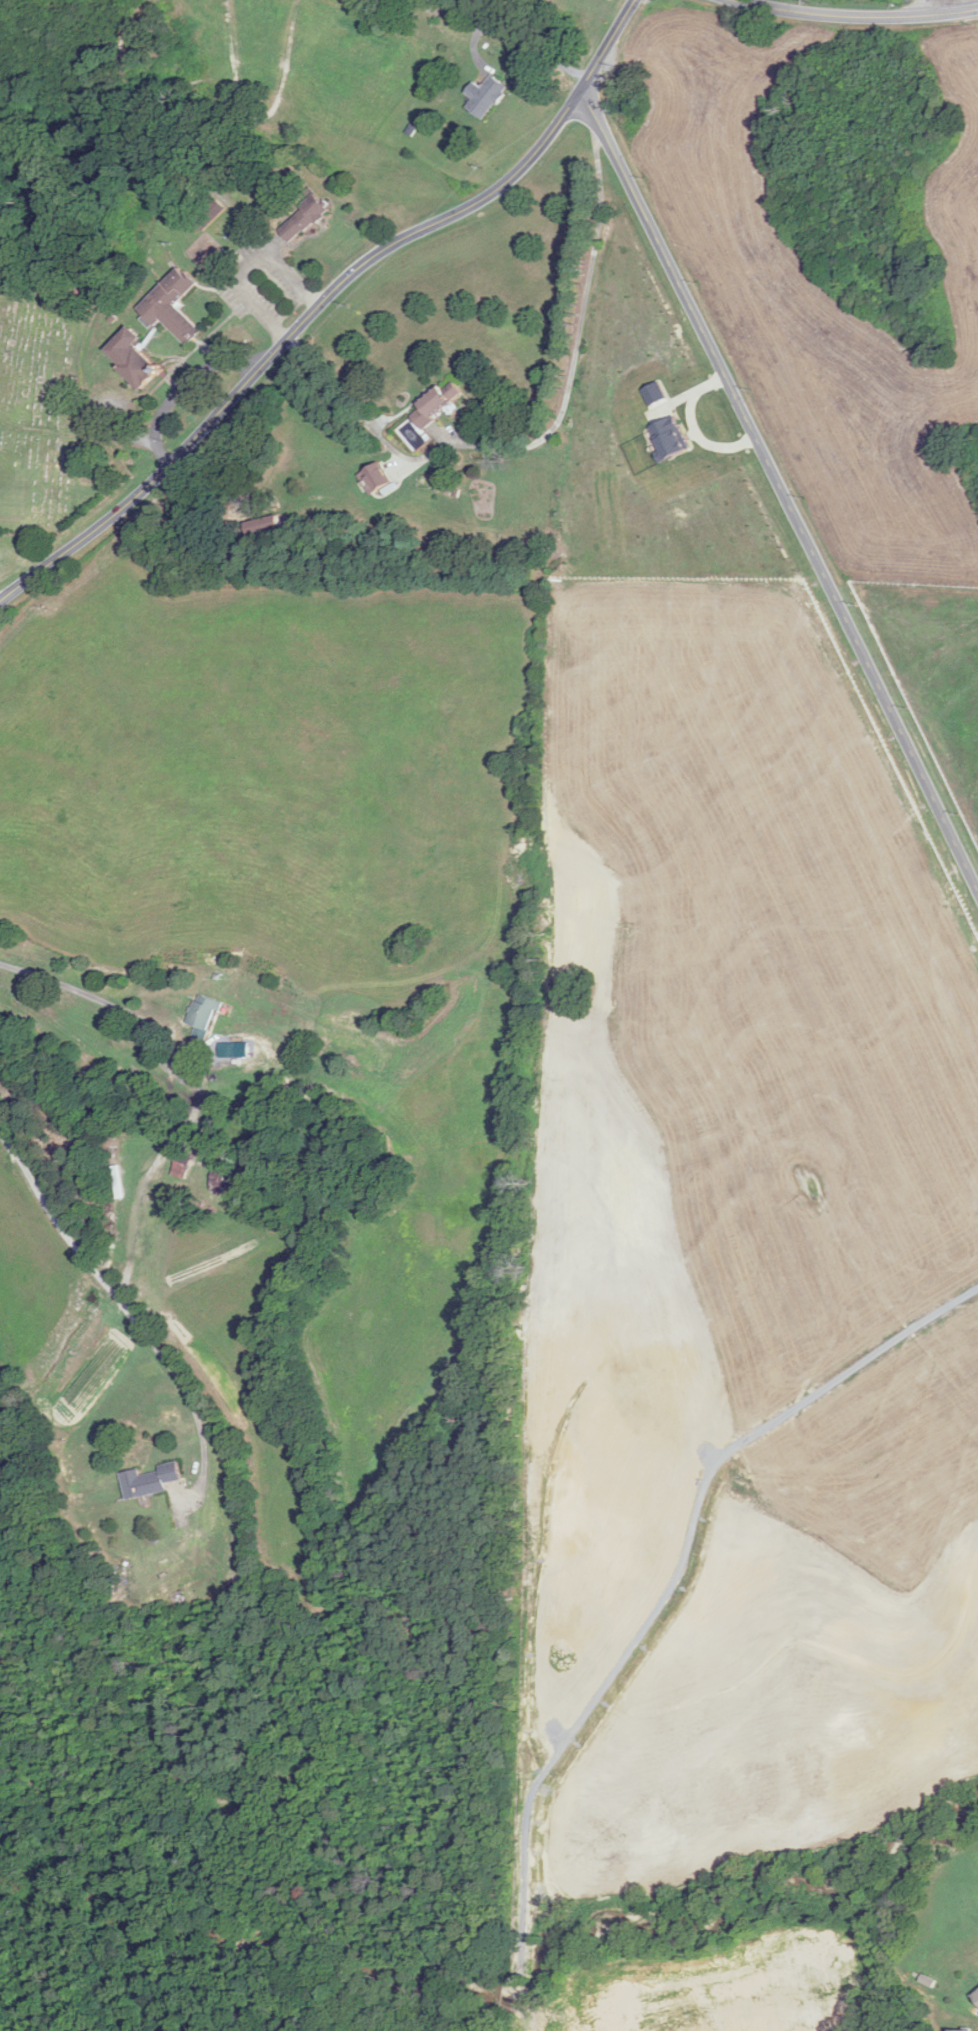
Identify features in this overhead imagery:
road: (858, 17)
road: (519, 44)
building: (485, 97)
building: (304, 219)
road: (321, 302)
building: (173, 306)
road: (297, 350)
building: (133, 358)
road: (179, 387)
building: (437, 403)
park: (47, 414)
road: (780, 493)
building: (542, 547)
road: (85, 996)
building: (203, 1016)
building: (181, 1166)
building: (220, 1179)
road: (125, 1307)
building: (150, 1481)
building: (977, 1996)
building: (961, 2030)

